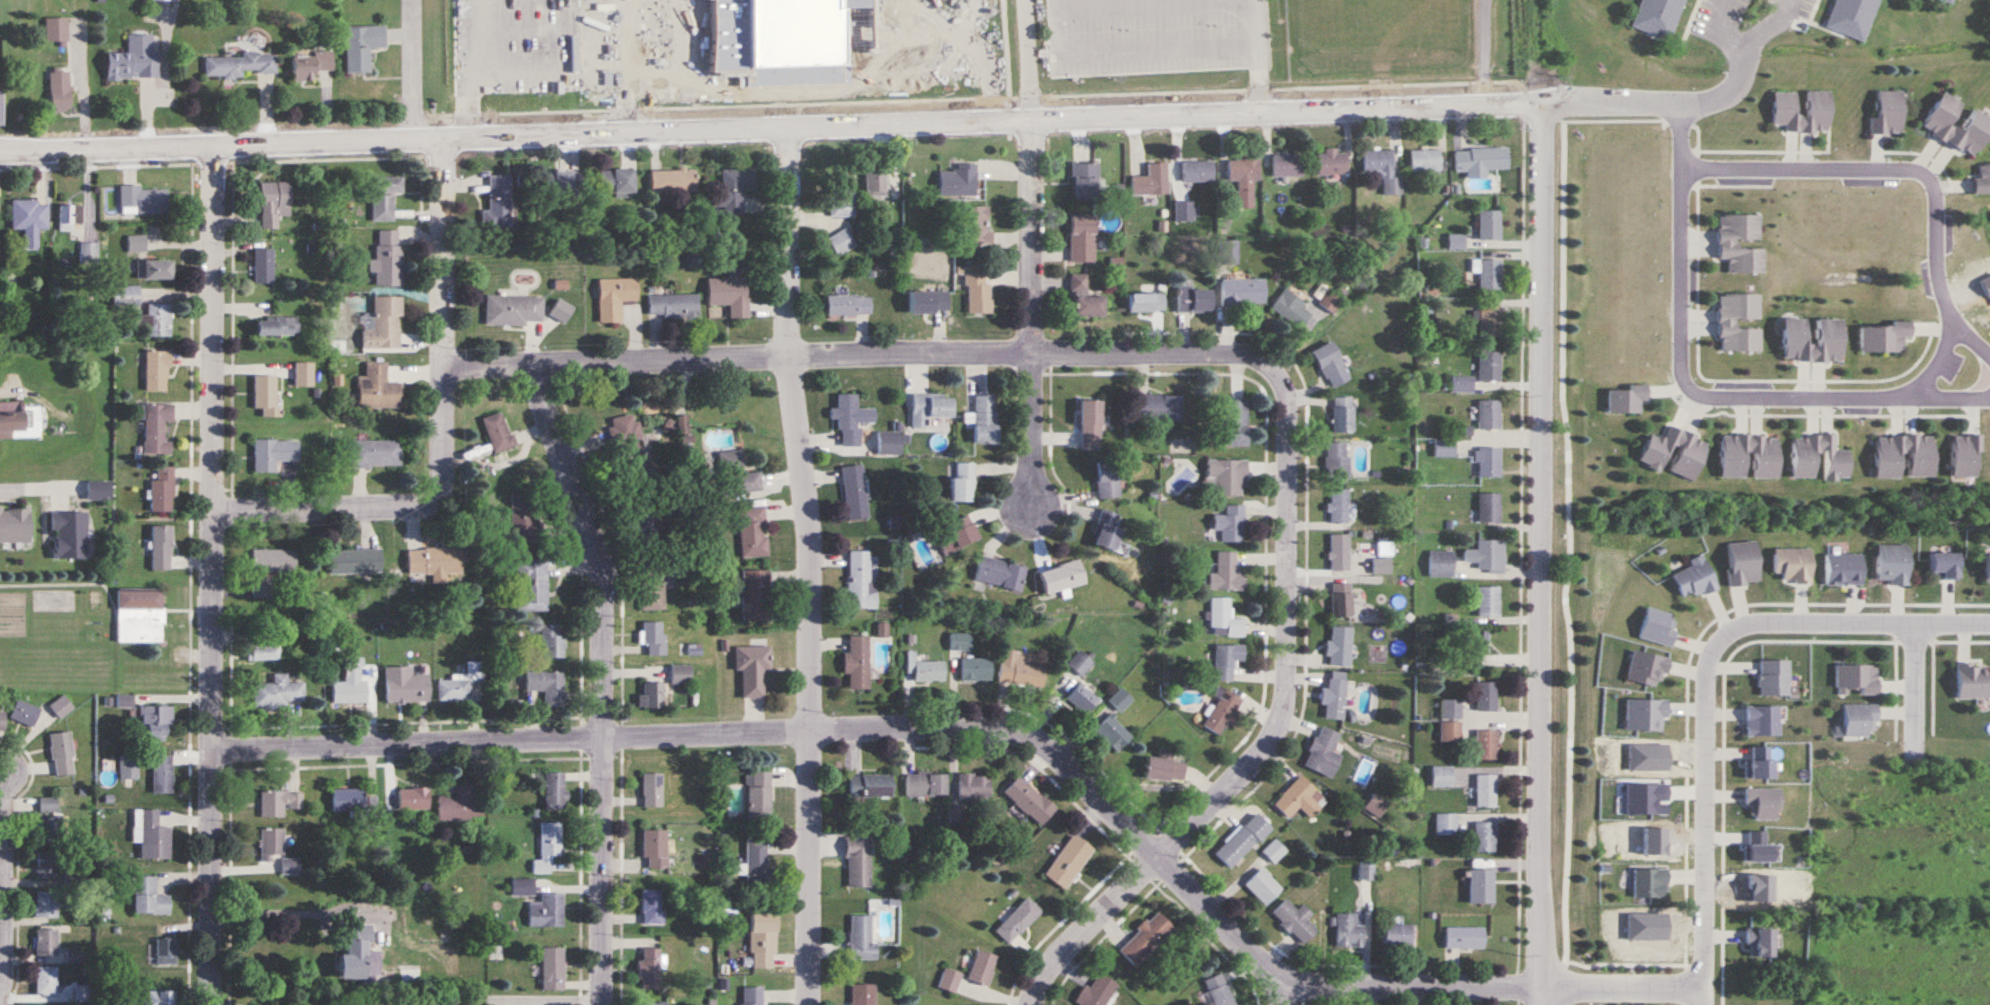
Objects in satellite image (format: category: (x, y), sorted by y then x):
building: (1950, 0)
building: (1660, 17)
building: (1855, 17)
building: (55, 31)
road: (965, 42)
building: (362, 46)
road: (1477, 51)
road: (1257, 54)
road: (1739, 54)
road: (1029, 59)
building: (134, 60)
road: (629, 62)
building: (239, 65)
building: (311, 65)
road: (408, 67)
road: (523, 74)
building: (59, 90)
road: (1657, 101)
building: (1785, 103)
building: (1, 109)
building: (1888, 114)
road: (770, 122)
building: (1938, 126)
building: (1424, 160)
building: (1331, 162)
building: (1480, 162)
building: (1287, 165)
building: (1383, 170)
building: (1198, 172)
building: (1244, 179)
building: (1982, 179)
building: (1085, 180)
building: (1152, 180)
road: (1927, 180)
building: (673, 181)
building: (959, 181)
building: (558, 182)
building: (617, 182)
building: (875, 182)
building: (735, 189)
building: (383, 198)
building: (842, 198)
building: (143, 200)
building: (273, 203)
building: (498, 203)
building: (29, 214)
building: (65, 218)
building: (976, 225)
building: (1489, 225)
building: (1082, 239)
building: (841, 242)
building: (136, 243)
building: (1740, 243)
building: (1228, 251)
building: (387, 259)
building: (263, 266)
building: (153, 269)
building: (1489, 274)
building: (978, 290)
building: (1243, 291)
building: (730, 292)
building: (125, 295)
building: (615, 297)
building: (1085, 299)
building: (1194, 300)
building: (929, 301)
building: (1330, 301)
building: (1146, 302)
building: (848, 305)
building: (673, 306)
building: (1292, 308)
building: (513, 310)
building: (561, 310)
building: (158, 320)
building: (1490, 321)
building: (1739, 323)
building: (384, 324)
building: (276, 326)
road: (1034, 327)
building: (1830, 331)
building: (1884, 336)
road: (1970, 337)
road: (851, 354)
building: (1330, 365)
building: (1488, 365)
building: (156, 370)
building: (303, 374)
building: (1461, 383)
building: (377, 388)
road: (1693, 392)
building: (265, 394)
building: (1626, 399)
building: (1158, 405)
building: (930, 408)
building: (1488, 414)
building: (1342, 415)
building: (985, 419)
building: (851, 420)
building: (20, 421)
building: (1235, 423)
building: (1090, 424)
building: (682, 425)
building: (156, 428)
road: (449, 428)
building: (497, 432)
building: (629, 439)
building: (888, 443)
building: (1444, 448)
building: (273, 454)
building: (375, 454)
building: (1966, 455)
building: (1689, 456)
building: (1336, 461)
building: (1487, 461)
building: (1836, 465)
building: (1889, 465)
building: (1733, 466)
building: (737, 474)
building: (1226, 478)
building: (1107, 479)
building: (962, 482)
road: (33, 490)
building: (99, 490)
building: (162, 490)
building: (854, 492)
building: (1339, 506)
building: (1489, 508)
building: (522, 518)
building: (640, 519)
building: (15, 524)
building: (1230, 524)
building: (752, 531)
building: (1107, 531)
building: (69, 534)
building: (957, 535)
building: (161, 547)
building: (1339, 552)
road: (1544, 552)
building: (1490, 556)
building: (355, 561)
building: (433, 562)
road: (812, 562)
building: (1440, 564)
building: (1743, 564)
building: (1892, 564)
building: (1793, 566)
building: (1944, 566)
building: (1987, 567)
building: (1844, 569)
building: (269, 570)
road: (213, 573)
building: (1000, 573)
building: (1226, 574)
building: (1062, 577)
building: (1694, 579)
building: (860, 581)
building: (653, 585)
building: (531, 586)
building: (754, 595)
building: (1340, 600)
building: (1488, 602)
building: (140, 615)
building: (1224, 620)
building: (1658, 627)
building: (653, 638)
building: (552, 641)
building: (960, 642)
building: (1340, 646)
building: (1476, 647)
building: (264, 652)
building: (1226, 661)
building: (856, 662)
building: (1080, 663)
building: (752, 668)
building: (1021, 668)
building: (1647, 668)
building: (976, 669)
building: (928, 671)
building: (680, 674)
road: (607, 675)
building: (1773, 678)
building: (1857, 679)
building: (1972, 681)
road: (1704, 683)
building: (406, 685)
building: (461, 685)
building: (350, 686)
building: (547, 686)
road: (1915, 686)
building: (279, 692)
building: (651, 696)
building: (1334, 696)
building: (1486, 696)
building: (1081, 699)
building: (1120, 700)
building: (61, 707)
building: (23, 712)
building: (1221, 712)
building: (1645, 714)
building: (2, 720)
building: (1762, 720)
building: (1860, 720)
road: (1278, 722)
building: (154, 723)
road: (925, 728)
building: (1113, 733)
building: (1485, 744)
building: (1323, 753)
building: (61, 754)
building: (1760, 762)
building: (129, 767)
building: (1164, 769)
building: (162, 775)
building: (926, 783)
building: (871, 785)
building: (974, 785)
building: (554, 790)
building: (651, 790)
building: (1485, 790)
building: (758, 795)
building: (413, 798)
building: (348, 799)
building: (1300, 799)
building: (1029, 800)
building: (279, 802)
building: (462, 803)
building: (1763, 803)
building: (48, 804)
building: (52, 830)
building: (152, 836)
building: (1485, 836)
building: (1241, 841)
building: (271, 845)
building: (548, 847)
building: (654, 850)
building: (1274, 851)
building: (755, 858)
building: (858, 861)
building: (1068, 862)
road: (9, 866)
building: (46, 866)
building: (290, 866)
building: (1650, 883)
building: (1480, 886)
building: (522, 887)
building: (1263, 887)
building: (149, 898)
building: (46, 905)
building: (652, 907)
building: (547, 911)
road: (282, 916)
building: (1018, 921)
building: (1295, 921)
building: (1348, 932)
building: (1397, 935)
building: (861, 937)
building: (1464, 938)
building: (1146, 939)
building: (762, 940)
building: (46, 942)
building: (1760, 943)
building: (166, 952)
building: (357, 953)
building: (983, 967)
building: (552, 969)
building: (649, 970)
building: (409, 976)
building: (950, 980)
building: (46, 981)
road: (1621, 985)
road: (1276, 988)
building: (1219, 991)
building: (1099, 992)
building: (862, 994)
road: (538, 996)
building: (751, 996)
building: (158, 998)
building: (653, 1003)
building: (430, 1004)

